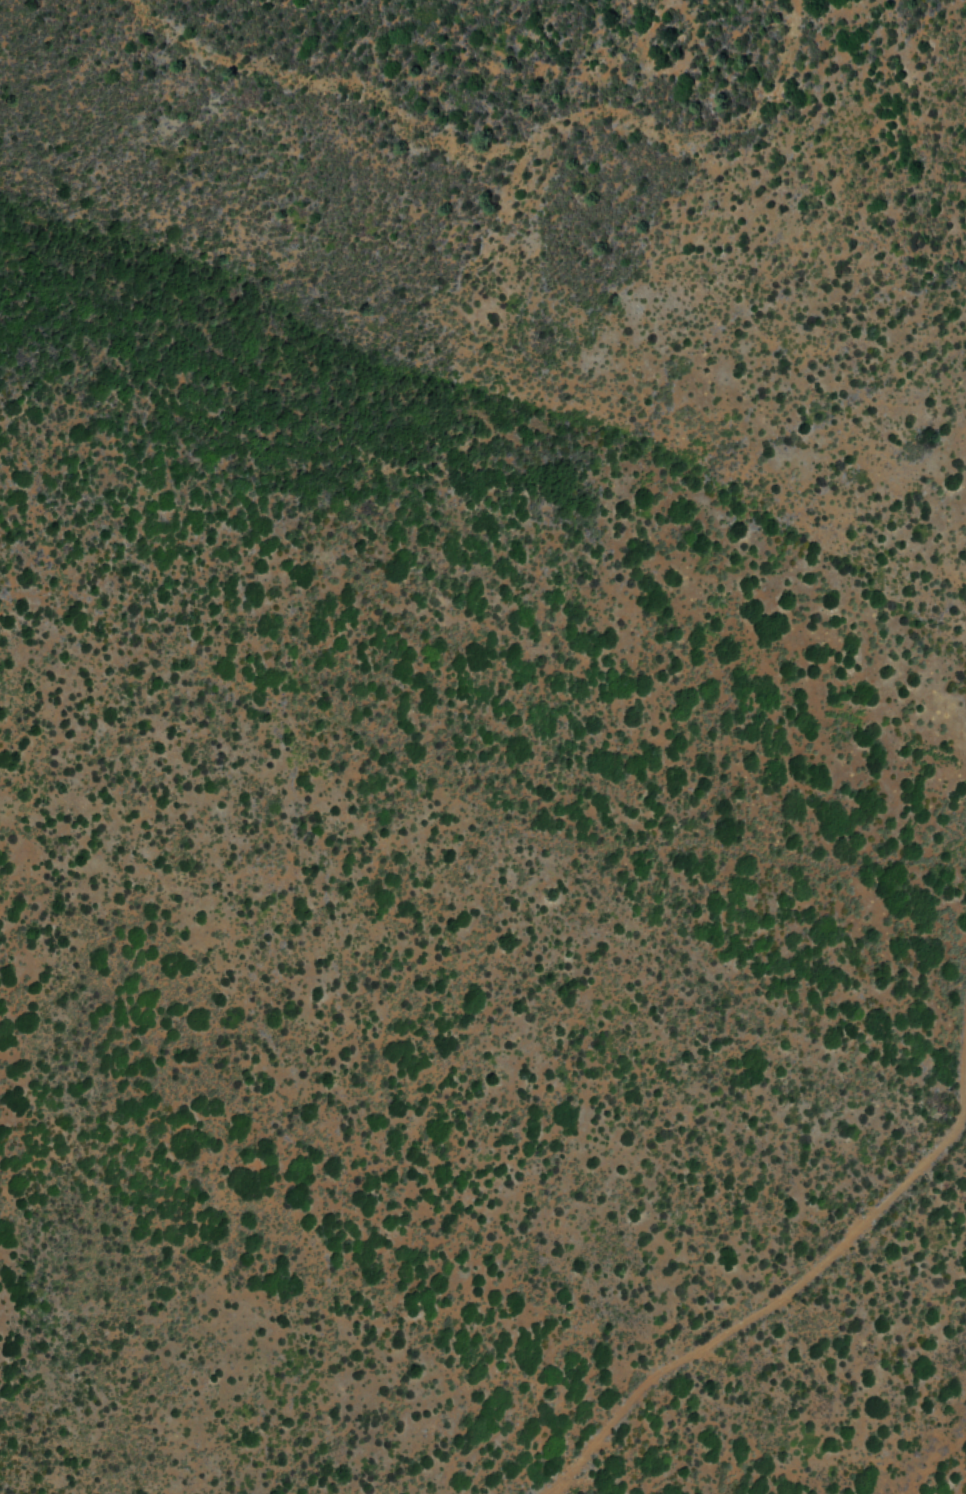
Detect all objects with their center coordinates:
road: (779, 1299)

